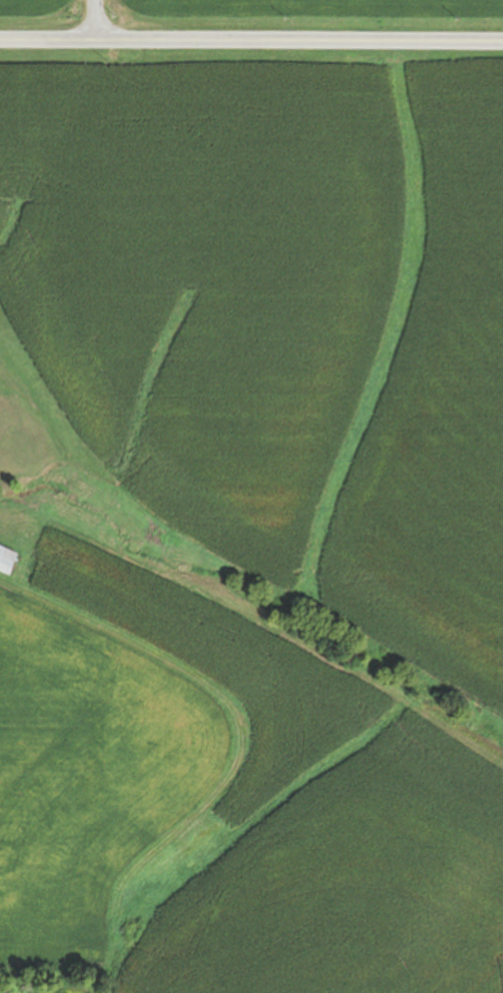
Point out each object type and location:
road: (86, 23)
road: (251, 46)

